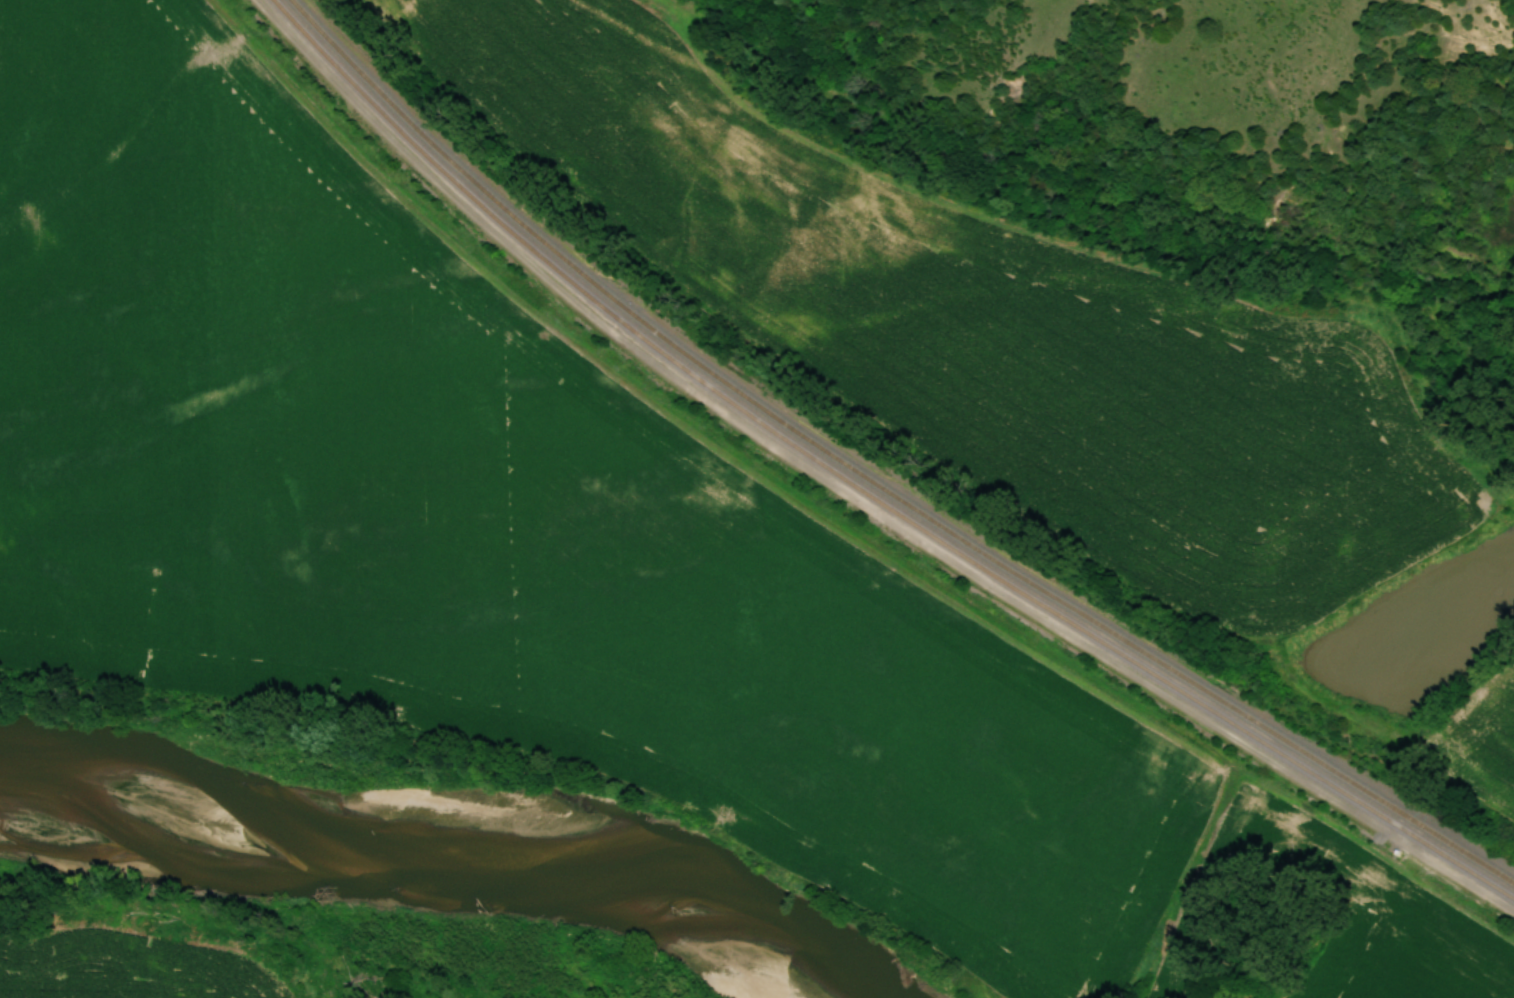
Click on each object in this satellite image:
railway: (871, 481)
railway: (861, 492)
river: (422, 858)

